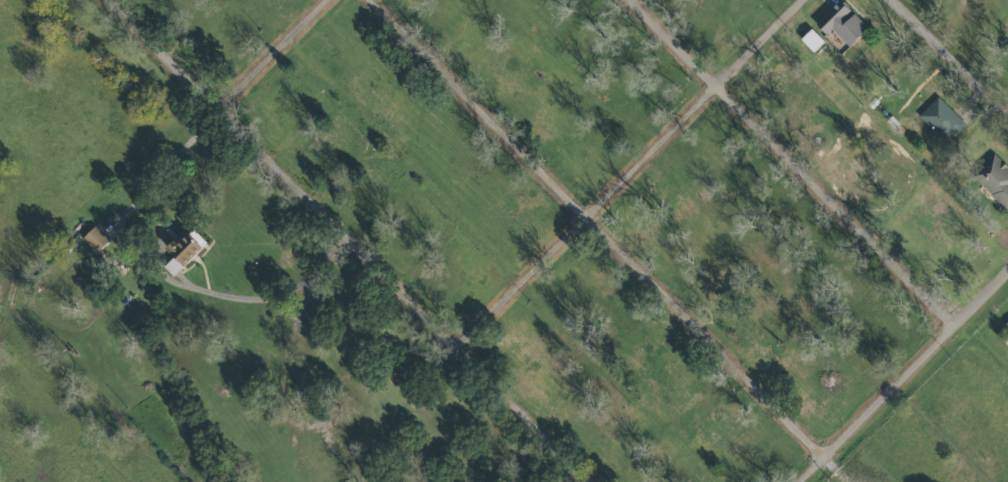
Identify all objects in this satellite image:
building: (841, 23)
road: (271, 54)
road: (950, 58)
road: (170, 163)
road: (792, 163)
road: (630, 174)
building: (994, 178)
park: (82, 180)
road: (591, 231)
building: (94, 239)
road: (346, 240)
building: (182, 250)
road: (239, 296)
building: (1006, 324)
road: (904, 377)

